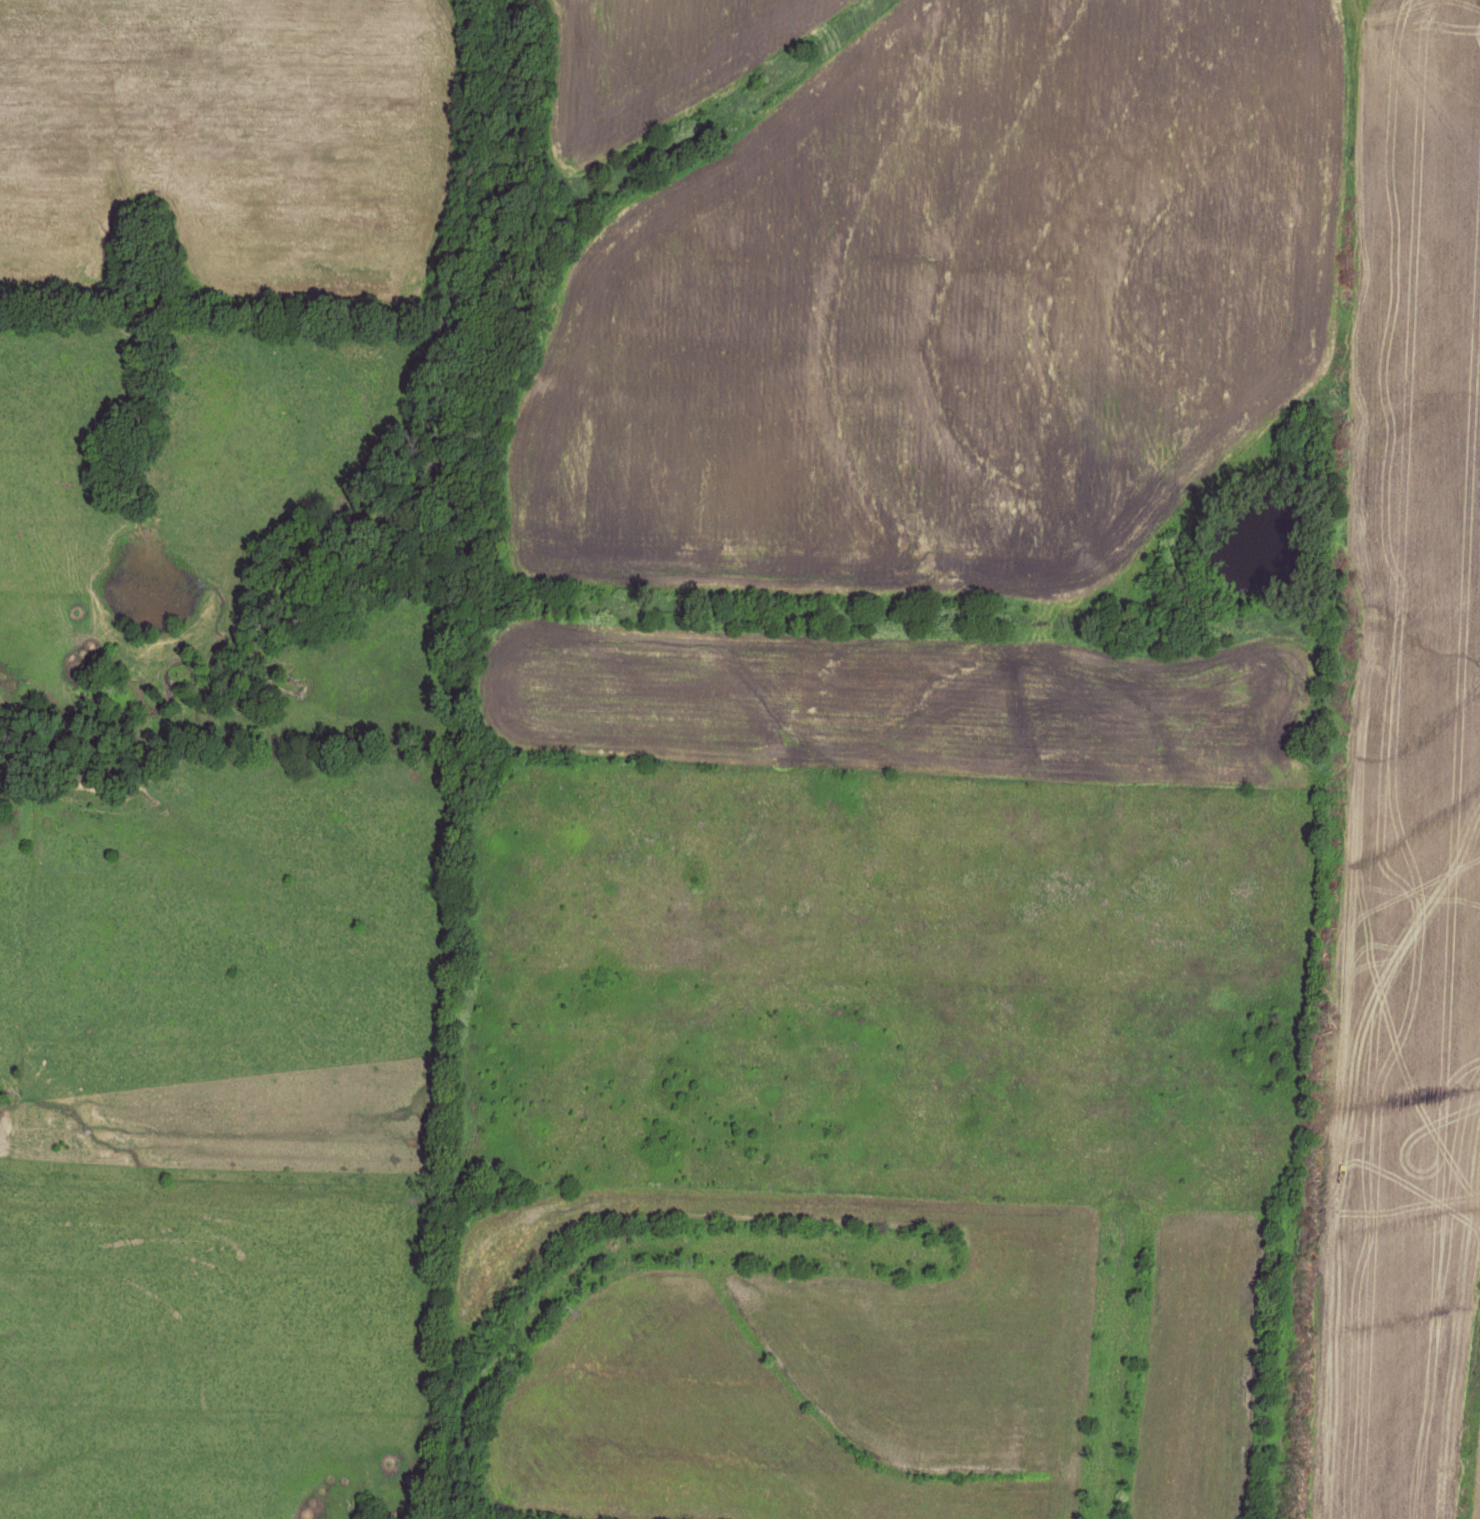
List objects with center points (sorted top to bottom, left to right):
road: (1333, 203)
building: (1106, 980)

